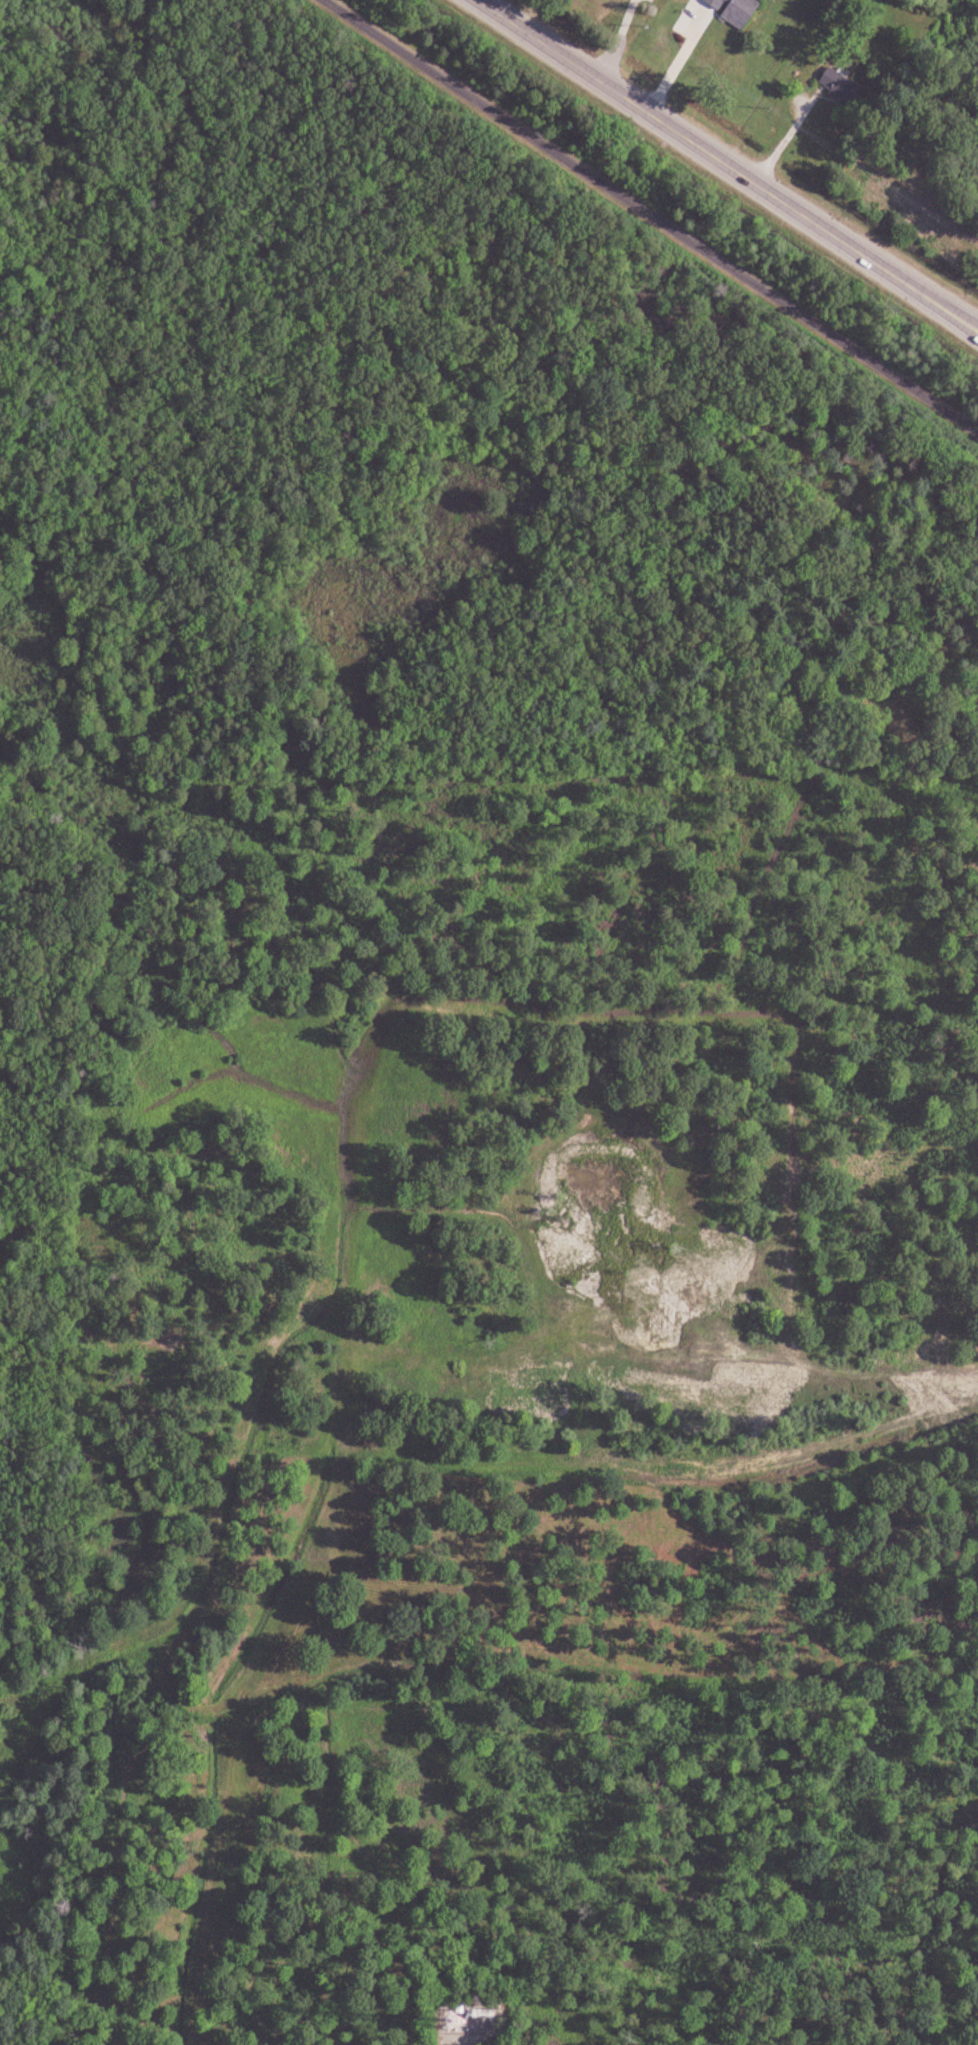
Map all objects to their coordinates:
building: (738, 10)
road: (618, 41)
road: (678, 62)
building: (846, 90)
road: (781, 133)
road: (727, 165)
road: (650, 215)
road: (357, 1174)
road: (795, 1364)
road: (667, 1466)
building: (483, 2019)
road: (467, 2044)

